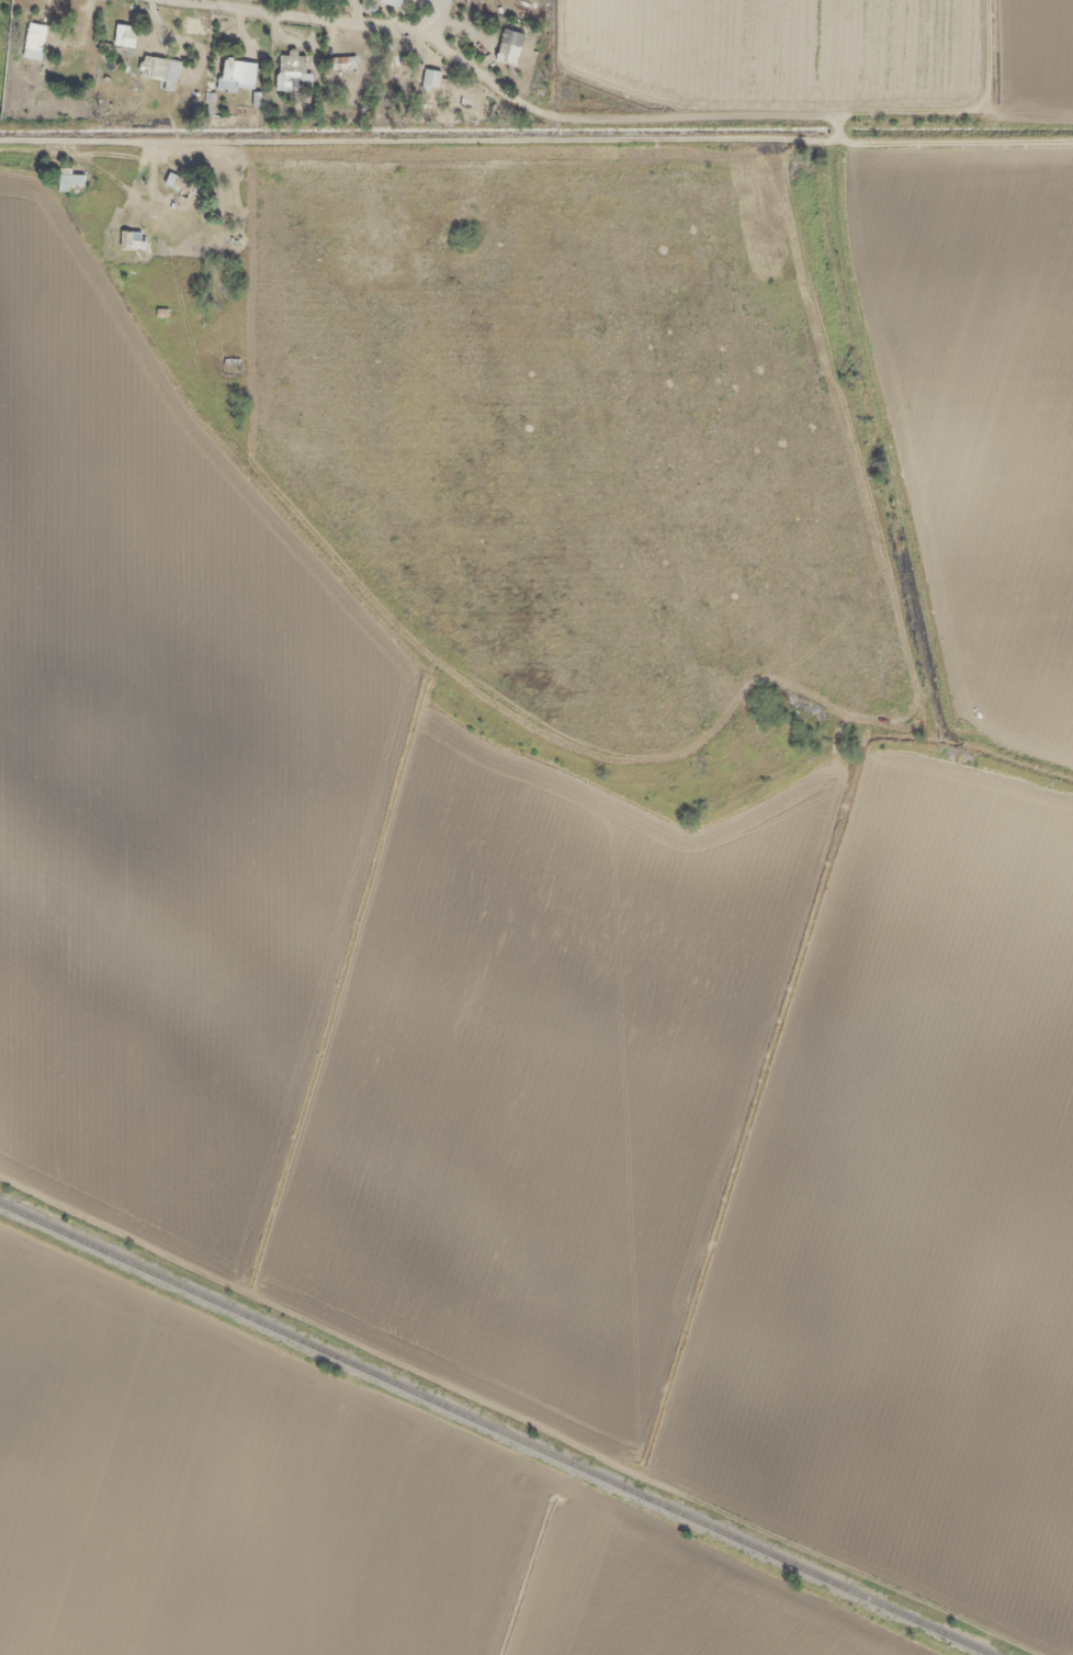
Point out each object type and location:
railway: (497, 1428)

